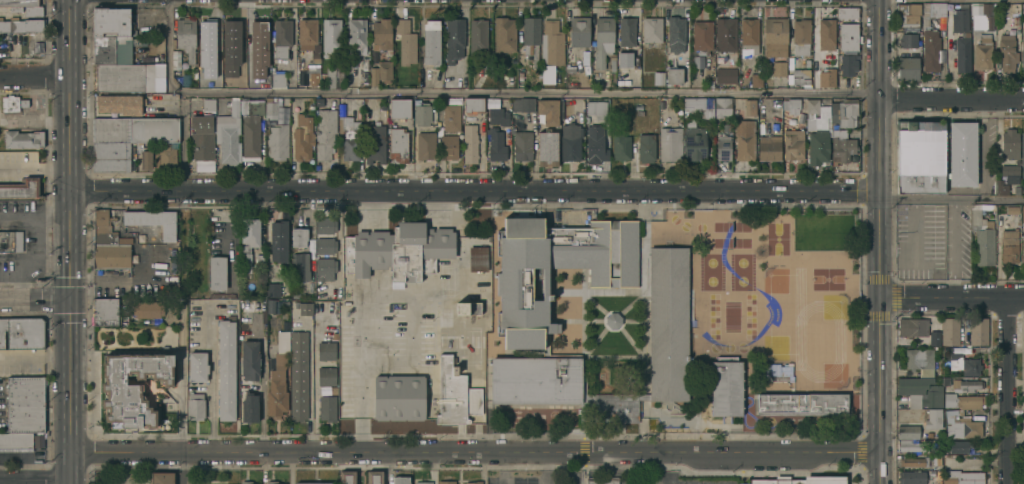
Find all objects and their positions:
road: (952, 0)
building: (18, 3)
building: (938, 10)
building: (32, 11)
building: (846, 13)
building: (907, 15)
building: (981, 16)
building: (958, 19)
building: (1015, 21)
building: (112, 23)
building: (22, 25)
building: (651, 30)
building: (579, 32)
building: (207, 34)
building: (306, 34)
building: (0, 35)
building: (258, 35)
building: (381, 35)
building: (503, 35)
building: (675, 35)
building: (725, 35)
building: (826, 35)
building: (356, 36)
building: (477, 36)
building: (748, 37)
building: (775, 37)
building: (800, 37)
building: (848, 37)
building: (185, 38)
building: (281, 38)
building: (330, 38)
building: (530, 38)
building: (701, 38)
building: (230, 39)
building: (454, 40)
building: (602, 41)
building: (907, 41)
building: (623, 42)
building: (405, 43)
building: (431, 43)
building: (173, 44)
building: (551, 44)
building: (929, 44)
building: (1022, 49)
building: (111, 50)
building: (982, 53)
building: (1006, 54)
building: (962, 55)
building: (175, 60)
building: (832, 60)
building: (847, 66)
building: (907, 68)
building: (779, 69)
building: (216, 71)
building: (384, 72)
building: (546, 75)
building: (312, 76)
building: (673, 76)
building: (725, 76)
road: (35, 77)
building: (332, 77)
building: (373, 77)
building: (520, 77)
building: (800, 77)
building: (119, 78)
building: (156, 78)
building: (658, 78)
building: (826, 78)
building: (238, 80)
building: (277, 80)
building: (756, 81)
building: (709, 84)
building: (595, 85)
road: (480, 96)
road: (880, 96)
building: (23, 103)
building: (318, 103)
building: (433, 103)
road: (952, 103)
building: (119, 104)
building: (208, 105)
building: (473, 105)
building: (522, 105)
building: (793, 106)
building: (638, 107)
building: (721, 107)
building: (812, 107)
building: (595, 108)
building: (749, 108)
building: (271, 109)
building: (399, 109)
building: (548, 112)
building: (639, 113)
building: (846, 113)
building: (421, 115)
building: (497, 115)
building: (451, 118)
building: (135, 130)
building: (697, 130)
building: (776, 133)
building: (228, 134)
building: (324, 134)
building: (837, 134)
building: (250, 136)
building: (347, 136)
building: (201, 137)
building: (278, 139)
building: (22, 140)
building: (744, 140)
building: (766, 141)
building: (817, 141)
building: (570, 142)
building: (302, 143)
building: (374, 144)
building: (468, 144)
building: (1009, 144)
building: (497, 145)
building: (595, 145)
building: (669, 145)
building: (793, 145)
building: (398, 146)
building: (425, 146)
building: (447, 146)
building: (522, 146)
building: (620, 147)
building: (646, 148)
building: (722, 148)
building: (547, 149)
building: (842, 149)
building: (962, 154)
building: (1022, 155)
building: (111, 157)
building: (144, 157)
building: (920, 157)
building: (1006, 179)
building: (20, 189)
road: (476, 192)
road: (952, 202)
building: (1012, 210)
building: (1022, 217)
building: (152, 222)
building: (325, 226)
road: (234, 227)
building: (982, 238)
building: (278, 240)
road: (70, 241)
building: (248, 241)
building: (475, 241)
building: (10, 242)
building: (108, 244)
road: (880, 244)
building: (325, 247)
building: (1009, 247)
building: (1023, 248)
building: (399, 251)
building: (298, 254)
building: (477, 259)
building: (259, 260)
building: (99, 270)
building: (324, 270)
building: (216, 274)
building: (273, 291)
road: (366, 293)
building: (295, 294)
road: (952, 296)
road: (35, 303)
traffic signals: (70, 303)
building: (271, 308)
building: (466, 309)
building: (146, 310)
building: (306, 310)
building: (104, 312)
building: (523, 321)
building: (612, 321)
building: (668, 325)
building: (912, 328)
building: (978, 331)
building: (950, 332)
building: (22, 333)
building: (933, 339)
building: (326, 352)
building: (249, 361)
building: (919, 361)
building: (964, 364)
building: (197, 367)
building: (225, 370)
building: (777, 373)
building: (298, 375)
building: (326, 377)
building: (277, 379)
building: (781, 381)
building: (945, 381)
road: (309, 386)
building: (966, 386)
road: (213, 387)
building: (726, 387)
building: (132, 389)
road: (878, 389)
road: (1011, 390)
building: (920, 392)
building: (454, 395)
building: (643, 397)
building: (380, 398)
building: (405, 398)
building: (963, 402)
building: (24, 404)
road: (180, 405)
building: (802, 405)
building: (194, 407)
building: (249, 408)
building: (326, 409)
building: (933, 420)
building: (963, 429)
building: (907, 433)
building: (15, 442)
building: (960, 445)
building: (911, 446)
road: (473, 454)
building: (964, 457)
building: (936, 461)
building: (914, 462)
road: (180, 468)
road: (289, 469)
road: (387, 469)
road: (433, 469)
road: (483, 469)
building: (347, 477)
building: (374, 477)
building: (911, 477)
building: (963, 477)
building: (161, 478)
building: (816, 479)
building: (837, 479)
road: (35, 480)
building: (401, 480)
building: (603, 480)
building: (768, 480)
building: (790, 480)
building: (750, 481)
building: (934, 481)
building: (445, 482)
building: (245, 483)
building: (271, 483)
building: (310, 483)
building: (422, 483)
building: (473, 483)

